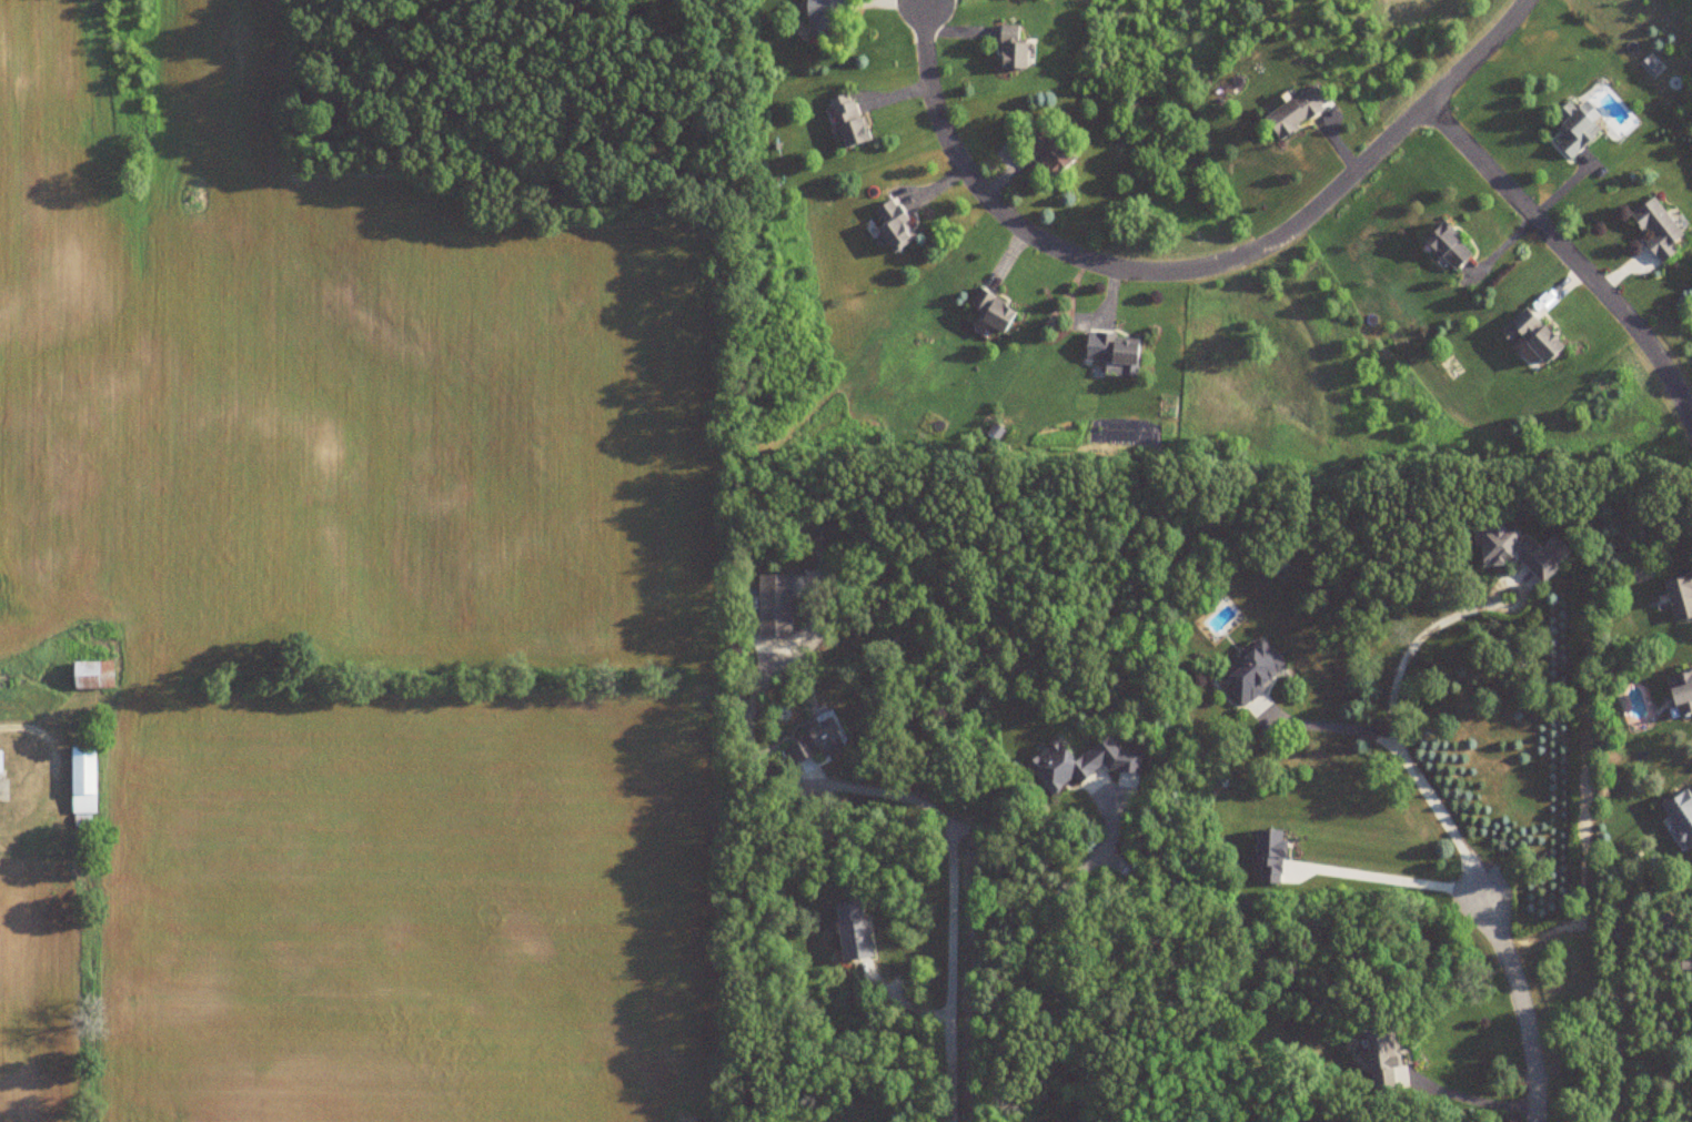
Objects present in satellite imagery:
building: (824, 16)
building: (1010, 49)
building: (1296, 113)
building: (847, 120)
building: (1575, 128)
building: (1049, 152)
building: (892, 225)
building: (1656, 229)
building: (1447, 246)
road: (1570, 254)
road: (1190, 269)
building: (991, 311)
building: (1530, 338)
building: (1115, 350)
building: (1515, 552)
building: (1680, 596)
building: (774, 605)
building: (1252, 673)
building: (92, 676)
building: (1681, 693)
road: (1331, 728)
road: (1393, 734)
building: (816, 741)
building: (0, 762)
building: (1059, 768)
road: (58, 774)
building: (82, 781)
road: (1386, 881)
road: (954, 900)
building: (853, 931)
road: (1037, 974)
road: (1521, 1004)
building: (1382, 1058)
road: (1476, 1098)

